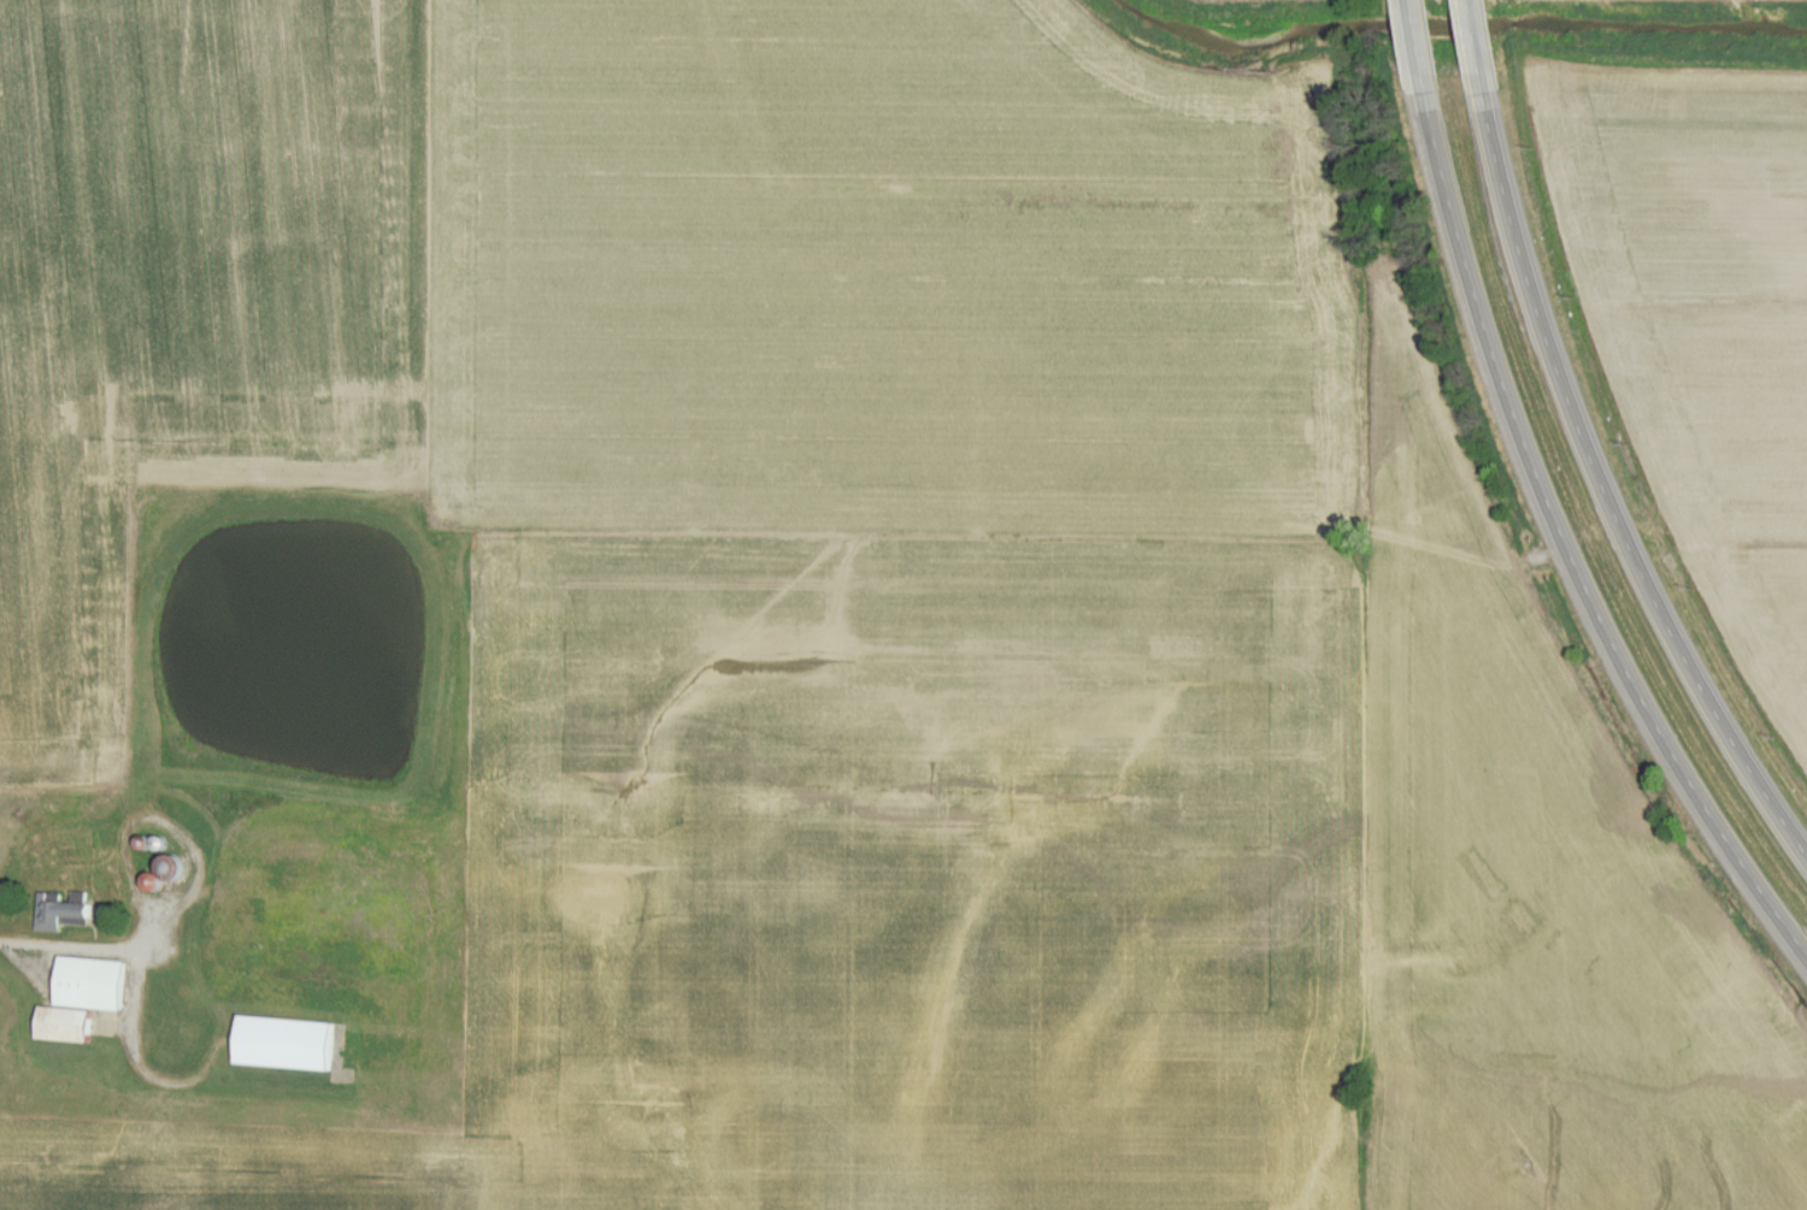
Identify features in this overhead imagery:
road: (1417, 49)
road: (1475, 52)
road: (1606, 490)
road: (1570, 543)
building: (60, 910)
road: (145, 944)
building: (75, 999)
building: (281, 1044)
road: (153, 1072)

